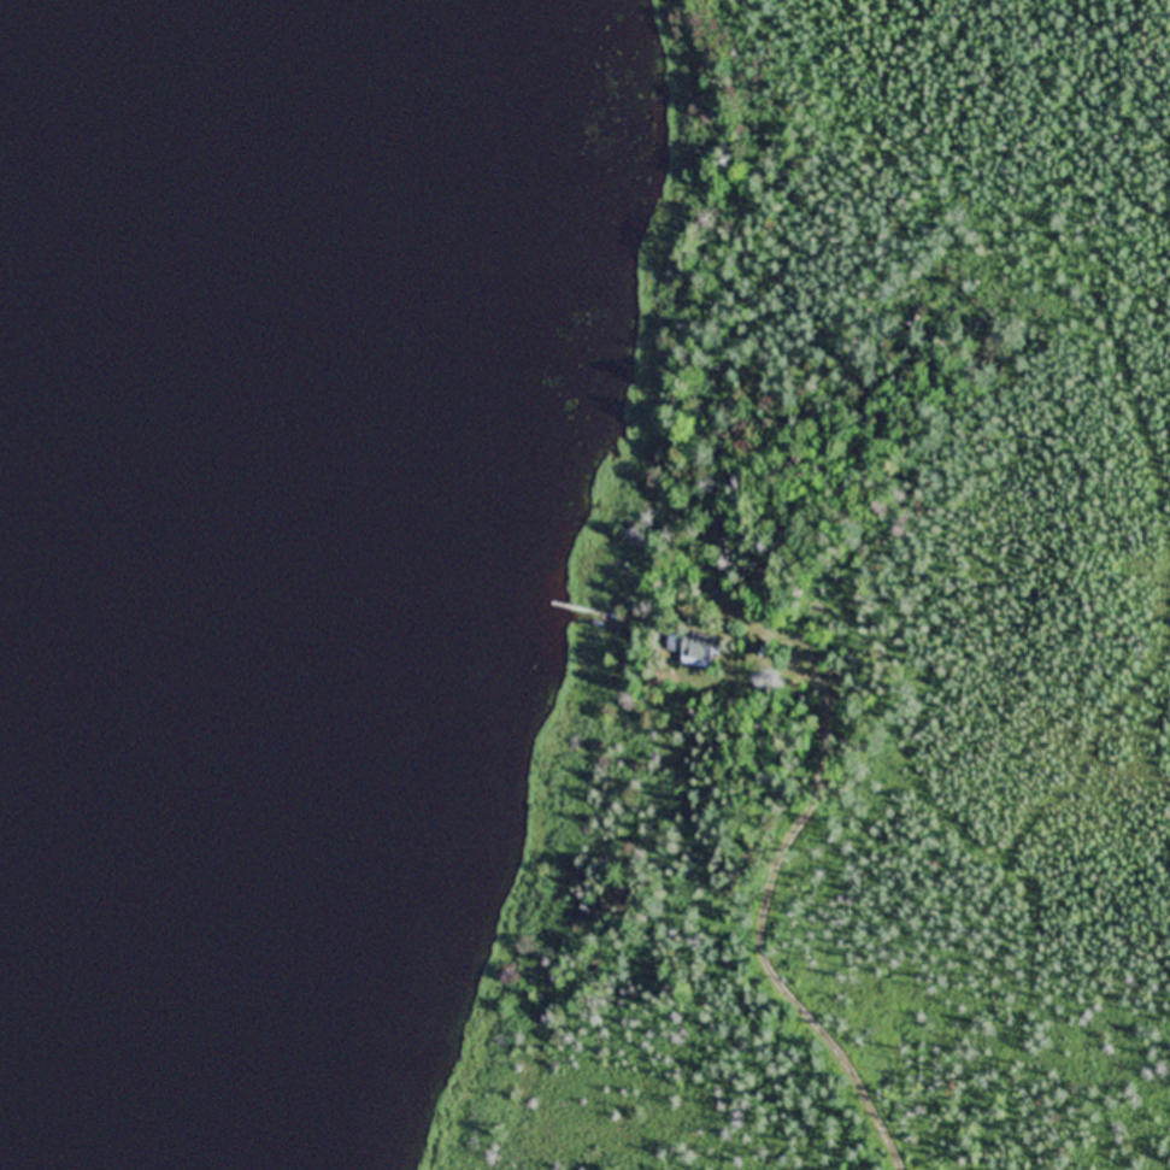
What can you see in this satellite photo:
building: (700, 647)

